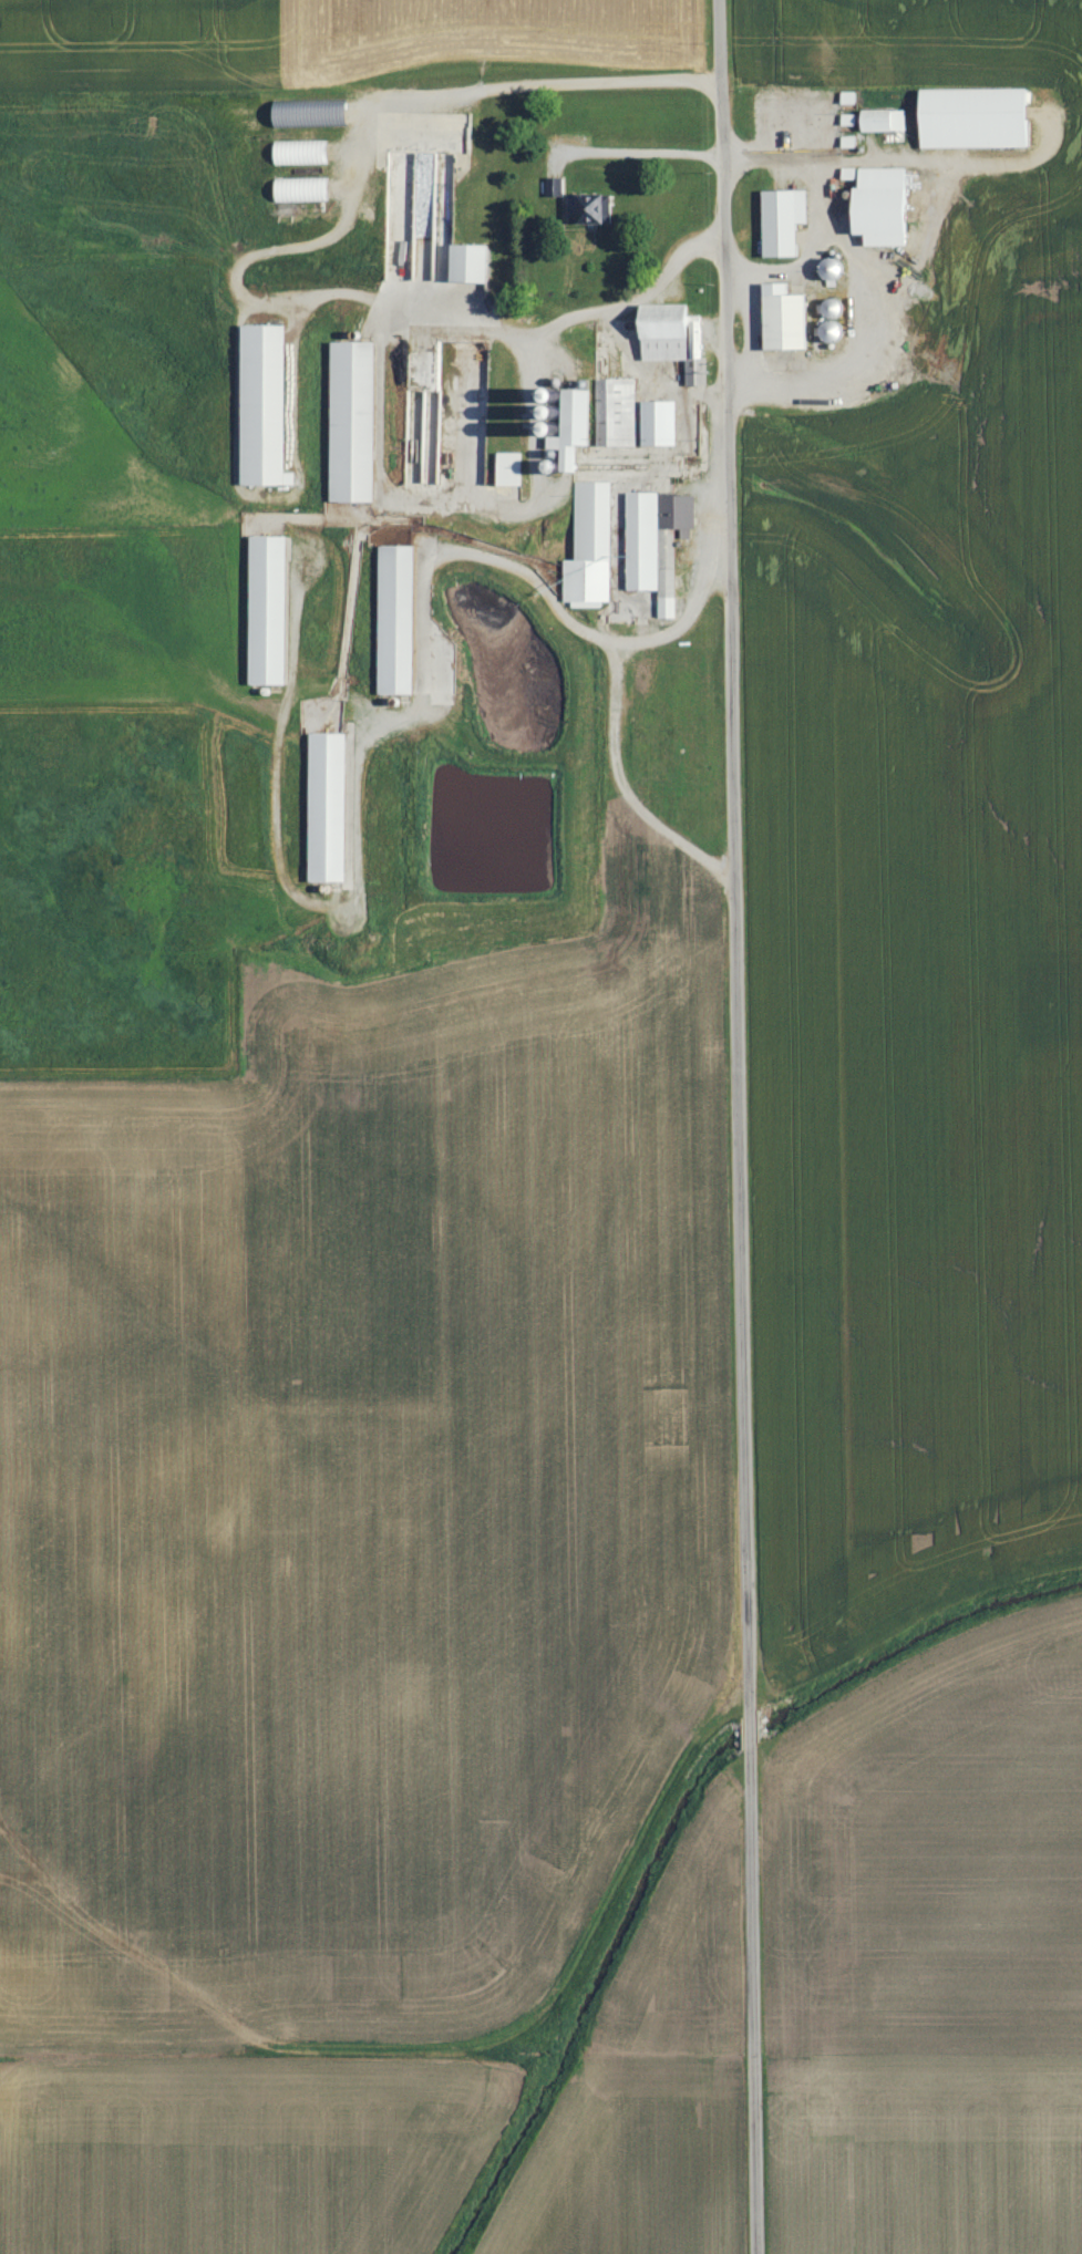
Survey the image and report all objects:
building: (310, 116)
building: (975, 120)
building: (884, 122)
road: (640, 151)
building: (301, 153)
building: (554, 187)
building: (302, 190)
building: (882, 208)
building: (589, 210)
road: (346, 215)
building: (783, 224)
road: (927, 241)
road: (816, 251)
road: (855, 257)
building: (470, 265)
building: (784, 320)
building: (674, 339)
road: (536, 384)
building: (264, 406)
building: (616, 412)
building: (352, 422)
building: (659, 423)
building: (571, 425)
building: (509, 468)
building: (657, 544)
building: (590, 547)
road: (481, 554)
building: (268, 610)
building: (396, 620)
road: (615, 712)
building: (328, 807)
road: (735, 1127)

